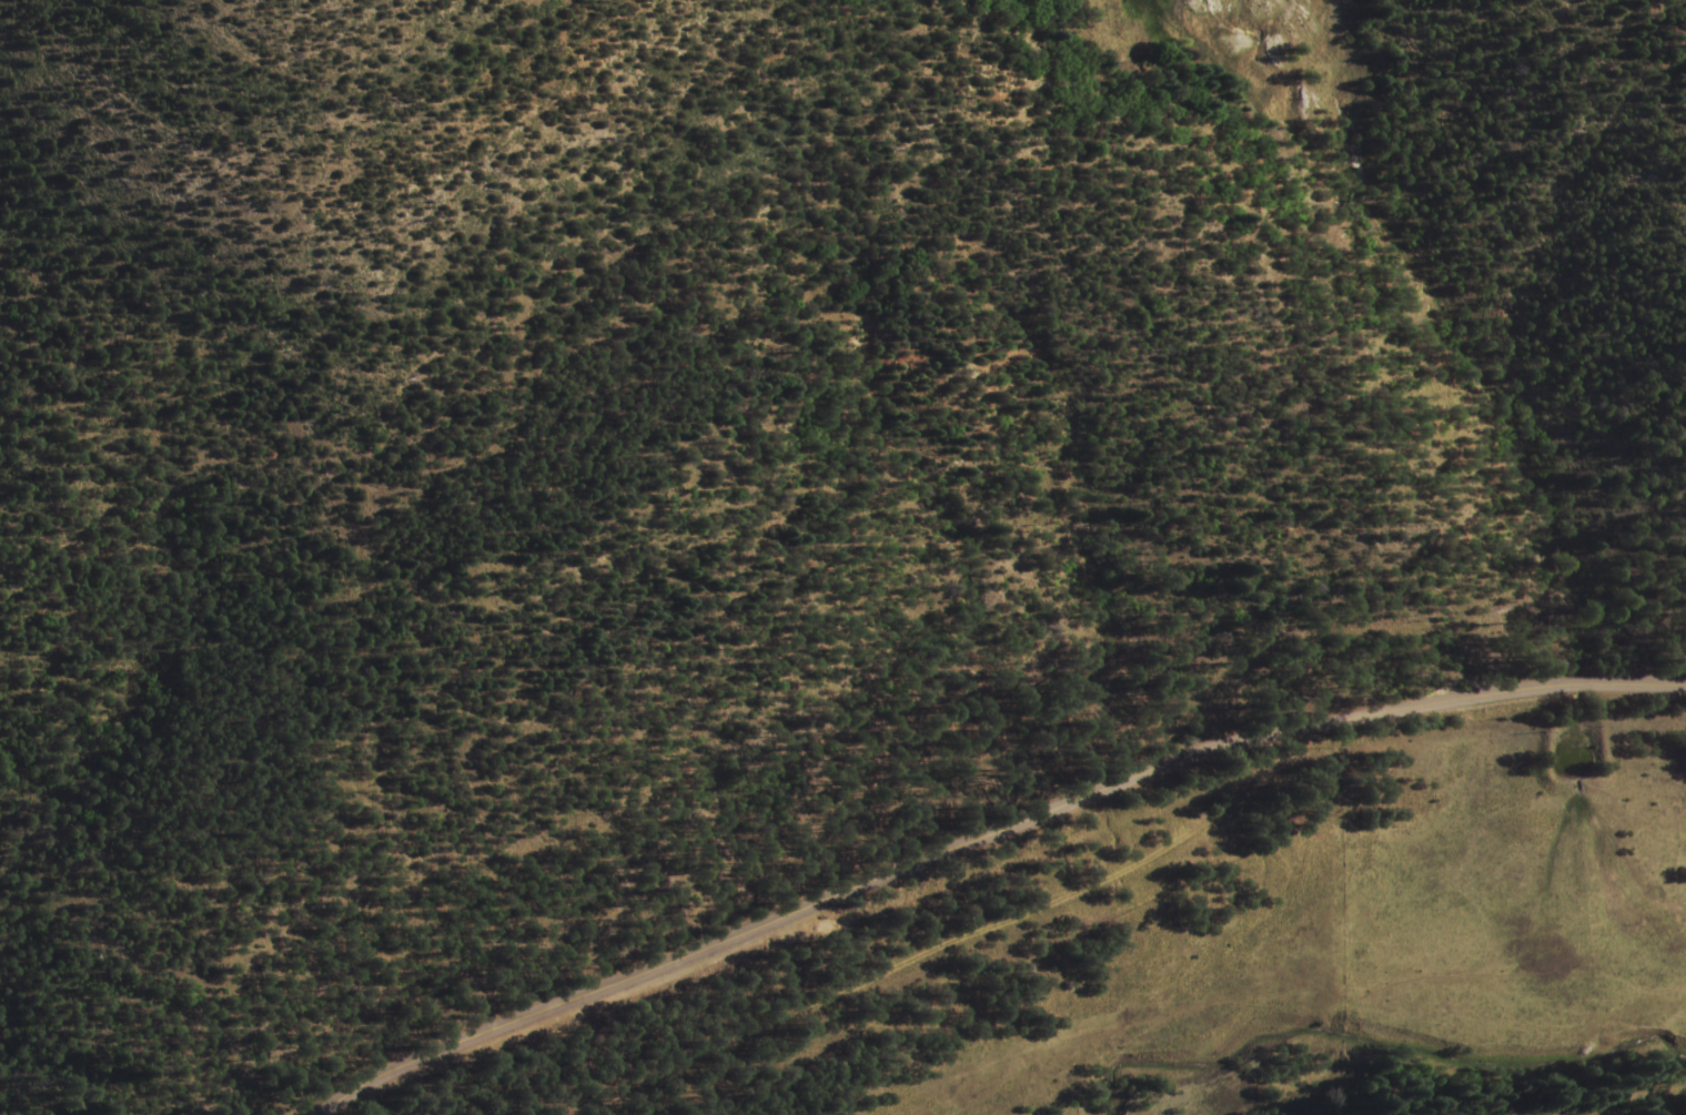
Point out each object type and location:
road: (988, 833)

